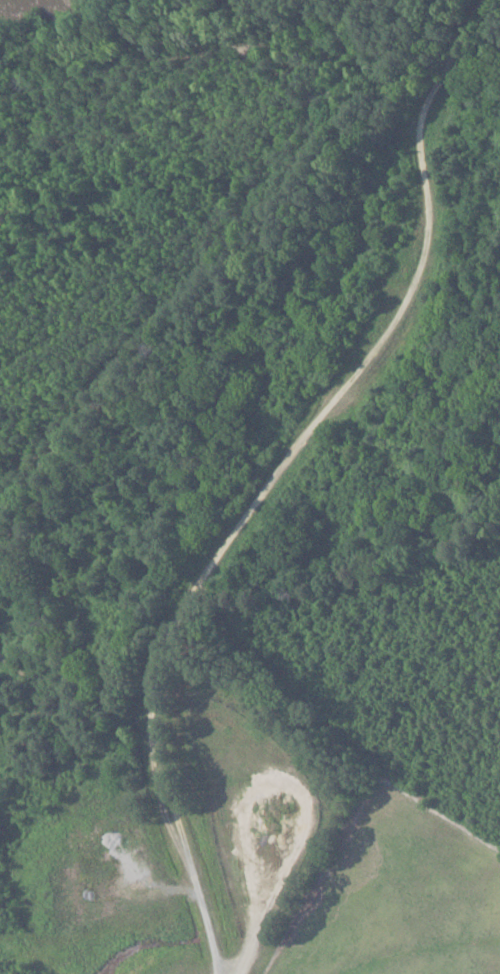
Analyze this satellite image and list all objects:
road: (116, 799)

